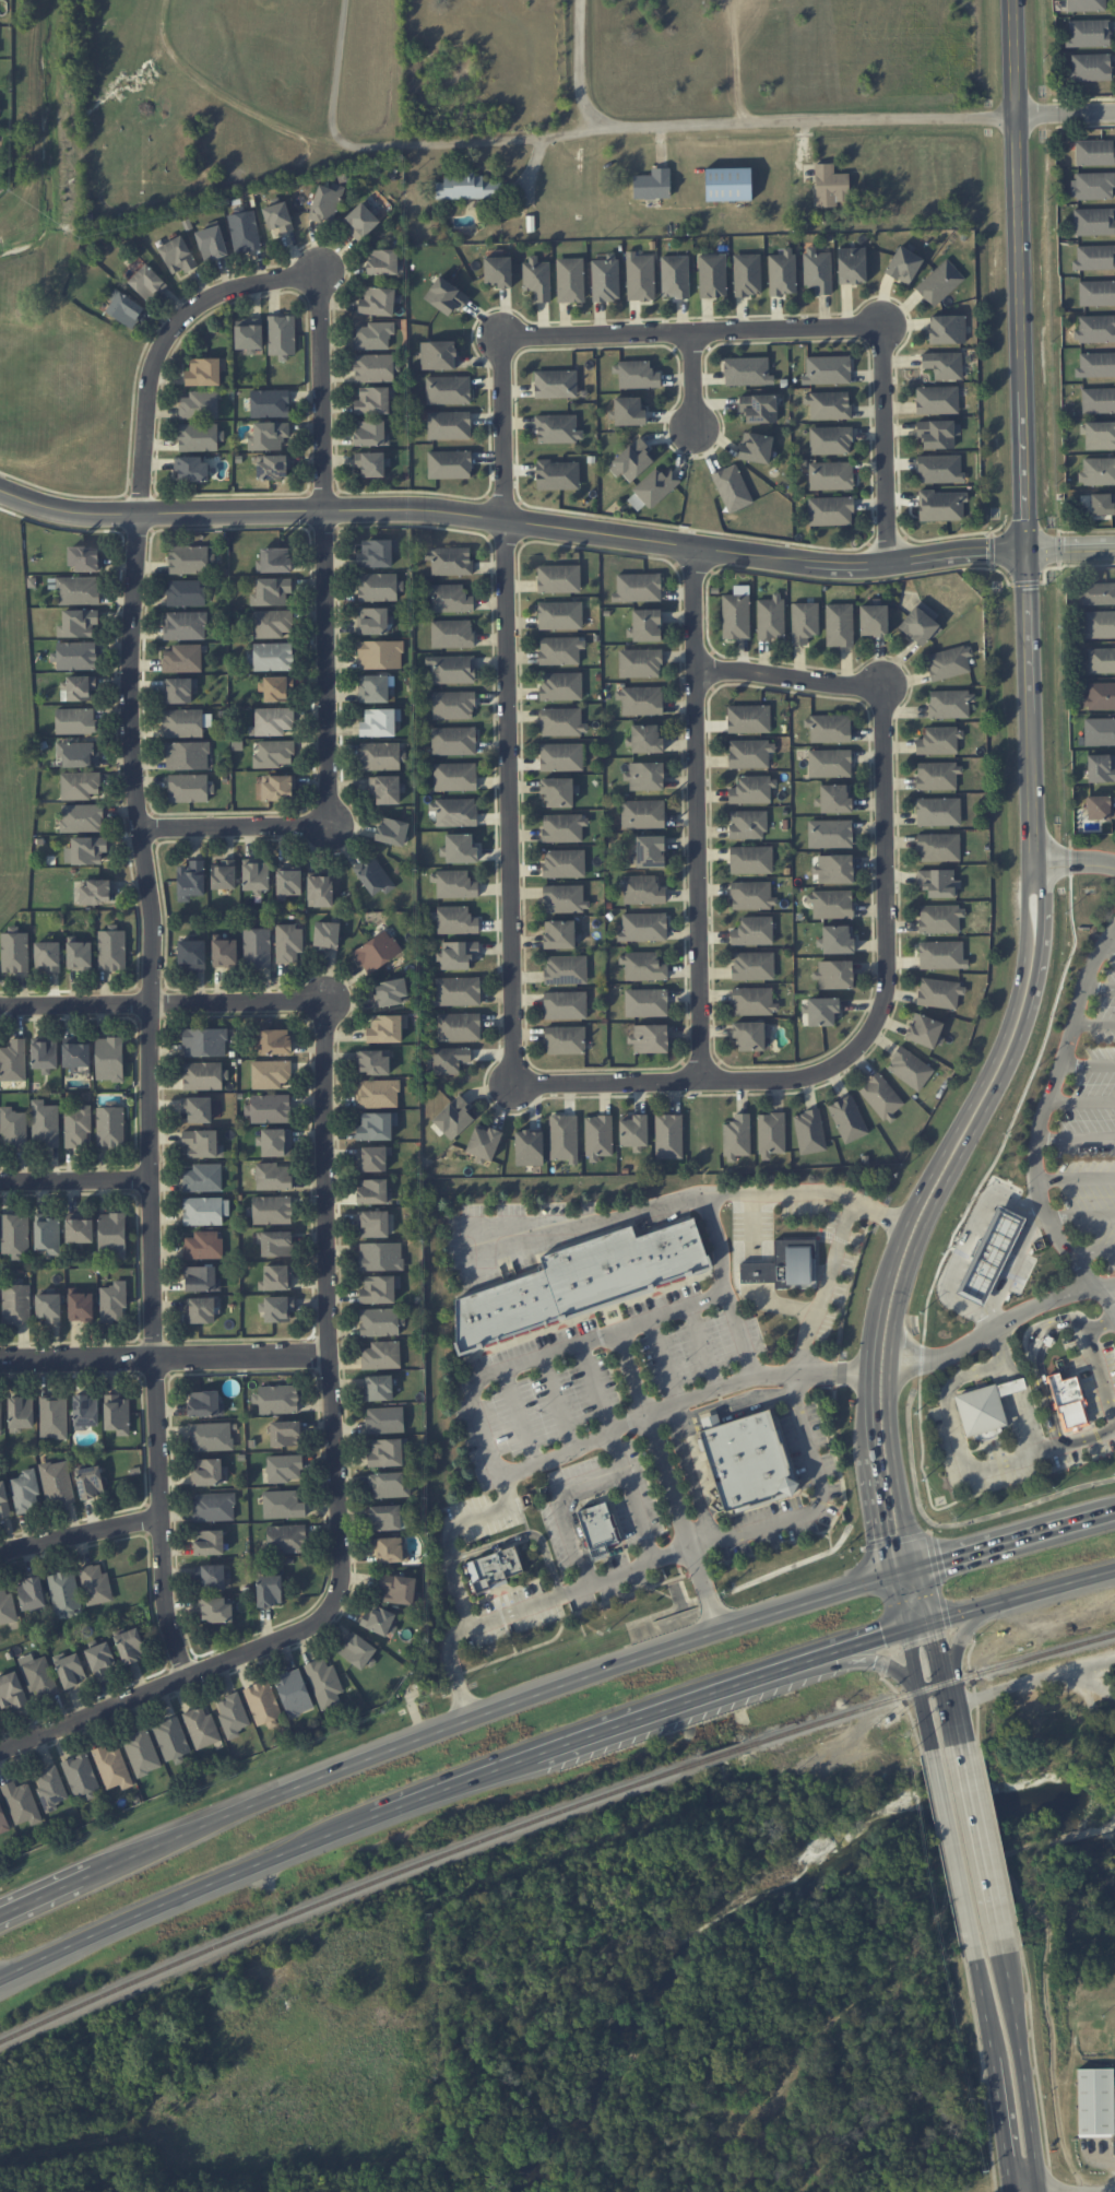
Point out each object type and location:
building: (1086, 4)
building: (1089, 33)
road: (735, 61)
road: (582, 67)
building: (1090, 67)
building: (0, 106)
road: (331, 107)
road: (1065, 117)
road: (711, 123)
building: (1094, 152)
building: (652, 184)
building: (727, 184)
building: (830, 186)
building: (1092, 186)
building: (466, 187)
building: (325, 202)
building: (277, 216)
building: (361, 221)
building: (1094, 221)
building: (244, 232)
building: (211, 241)
building: (177, 255)
building: (1094, 258)
building: (382, 261)
building: (852, 264)
building: (903, 264)
building: (817, 270)
building: (498, 271)
building: (782, 272)
building: (747, 274)
building: (712, 275)
building: (640, 276)
building: (675, 276)
building: (537, 278)
building: (605, 279)
building: (570, 280)
building: (147, 282)
building: (939, 282)
building: (1096, 293)
building: (446, 296)
building: (377, 302)
building: (124, 308)
building: (947, 329)
building: (1095, 329)
building: (249, 335)
building: (282, 335)
building: (373, 335)
building: (438, 354)
building: (944, 364)
building: (1095, 365)
building: (373, 367)
building: (827, 369)
building: (747, 370)
building: (205, 372)
building: (637, 374)
road: (695, 380)
building: (555, 384)
building: (448, 389)
building: (375, 400)
building: (937, 400)
building: (1098, 400)
building: (270, 403)
building: (199, 404)
building: (828, 404)
building: (759, 408)
building: (628, 411)
building: (449, 425)
building: (557, 428)
road: (1022, 432)
building: (371, 433)
building: (938, 433)
building: (1099, 435)
building: (199, 436)
building: (268, 436)
building: (830, 439)
building: (756, 447)
building: (631, 460)
building: (371, 462)
building: (449, 464)
building: (273, 467)
building: (192, 468)
building: (939, 468)
building: (1098, 471)
building: (557, 474)
building: (830, 475)
building: (655, 486)
building: (732, 487)
building: (1103, 504)
building: (941, 505)
building: (830, 510)
road: (512, 519)
road: (1070, 547)
building: (377, 553)
building: (85, 558)
building: (191, 558)
building: (274, 559)
building: (449, 561)
building: (559, 578)
building: (377, 587)
building: (637, 587)
building: (78, 590)
building: (271, 591)
building: (186, 592)
building: (1096, 593)
building: (448, 598)
building: (736, 613)
building: (560, 615)
building: (770, 616)
building: (372, 620)
building: (874, 620)
building: (804, 622)
building: (78, 623)
building: (272, 623)
building: (921, 623)
building: (1099, 624)
building: (185, 625)
building: (647, 625)
building: (839, 625)
building: (451, 634)
road: (325, 644)
building: (560, 650)
building: (380, 653)
building: (75, 656)
building: (272, 657)
building: (182, 658)
building: (1101, 660)
building: (639, 662)
building: (948, 662)
building: (451, 669)
building: (561, 686)
building: (79, 687)
building: (276, 687)
building: (373, 688)
building: (178, 690)
building: (1100, 696)
building: (640, 700)
building: (950, 704)
building: (453, 705)
building: (748, 718)
building: (75, 720)
building: (272, 720)
building: (562, 721)
building: (182, 722)
building: (379, 722)
building: (829, 728)
building: (1099, 731)
building: (647, 738)
building: (453, 740)
building: (937, 741)
building: (749, 753)
building: (273, 754)
building: (187, 755)
building: (379, 756)
building: (561, 756)
building: (829, 763)
building: (1101, 767)
building: (937, 775)
building: (454, 776)
building: (644, 776)
building: (80, 785)
building: (189, 788)
building: (275, 788)
building: (750, 789)
building: (385, 790)
building: (558, 791)
building: (834, 798)
building: (1100, 806)
building: (938, 811)
building: (454, 812)
road: (699, 813)
building: (642, 814)
building: (82, 817)
building: (748, 824)
building: (562, 828)
building: (392, 830)
building: (830, 834)
building: (939, 847)
building: (460, 848)
building: (88, 849)
building: (650, 851)
road: (510, 858)
building: (750, 859)
building: (564, 862)
road: (1076, 862)
building: (834, 869)
building: (256, 873)
building: (223, 874)
building: (373, 876)
building: (191, 880)
building: (288, 882)
building: (939, 883)
building: (454, 884)
building: (643, 889)
building: (94, 891)
building: (319, 891)
building: (751, 895)
building: (565, 898)
building: (831, 904)
building: (940, 918)
road: (153, 920)
building: (454, 920)
building: (643, 927)
building: (752, 931)
building: (559, 934)
building: (327, 935)
building: (838, 939)
building: (288, 942)
building: (257, 947)
road: (1108, 947)
building: (111, 950)
building: (14, 952)
building: (377, 952)
building: (191, 954)
building: (458, 954)
building: (48, 955)
building: (941, 955)
building: (754, 965)
building: (643, 966)
building: (566, 969)
building: (834, 974)
road: (1099, 989)
building: (458, 991)
building: (391, 992)
building: (939, 992)
building: (754, 1001)
building: (645, 1002)
road: (162, 1003)
building: (565, 1005)
building: (822, 1011)
road: (1094, 1025)
building: (459, 1026)
building: (385, 1027)
building: (924, 1030)
building: (750, 1035)
building: (650, 1038)
building: (565, 1039)
building: (204, 1041)
building: (275, 1041)
building: (76, 1051)
building: (44, 1053)
building: (109, 1059)
building: (449, 1059)
building: (13, 1060)
building: (373, 1062)
road: (1087, 1064)
building: (909, 1068)
building: (270, 1073)
building: (202, 1075)
building: (377, 1093)
building: (881, 1097)
road: (1080, 1101)
building: (270, 1108)
building: (198, 1109)
road: (971, 1110)
parking lot: (1084, 1115)
building: (453, 1117)
building: (847, 1119)
building: (45, 1123)
building: (110, 1126)
building: (376, 1126)
road: (1037, 1126)
building: (78, 1127)
building: (13, 1128)
building: (633, 1131)
building: (809, 1131)
building: (771, 1134)
building: (736, 1135)
building: (597, 1136)
building: (668, 1136)
building: (564, 1138)
road: (1075, 1140)
building: (484, 1141)
building: (275, 1142)
building: (202, 1143)
building: (529, 1147)
building: (372, 1158)
building: (273, 1176)
building: (202, 1178)
road: (1075, 1180)
road: (75, 1181)
building: (373, 1191)
road: (660, 1205)
building: (271, 1210)
building: (205, 1211)
road: (1081, 1215)
building: (373, 1224)
building: (79, 1228)
building: (14, 1233)
building: (47, 1233)
building: (111, 1234)
building: (275, 1242)
building: (993, 1244)
building: (203, 1245)
building: (688, 1245)
building: (668, 1252)
gas station: (986, 1252)
road: (1091, 1252)
road: (1020, 1254)
building: (380, 1256)
building: (650, 1259)
building: (622, 1260)
building: (794, 1263)
building: (596, 1269)
road: (754, 1273)
building: (276, 1277)
building: (201, 1278)
building: (566, 1278)
road: (1104, 1284)
road: (722, 1285)
building: (379, 1288)
building: (541, 1294)
building: (522, 1300)
building: (15, 1301)
building: (112, 1301)
building: (506, 1305)
building: (81, 1306)
building: (49, 1307)
building: (276, 1308)
building: (491, 1310)
building: (478, 1315)
building: (379, 1321)
building: (463, 1323)
road: (703, 1347)
building: (381, 1355)
road: (548, 1355)
road: (165, 1357)
road: (1033, 1359)
road: (664, 1362)
parking lot: (601, 1376)
building: (379, 1387)
building: (276, 1399)
building: (1067, 1400)
building: (204, 1403)
road: (556, 1404)
building: (978, 1409)
road: (947, 1410)
building: (85, 1411)
road: (1016, 1412)
building: (21, 1413)
road: (651, 1413)
road: (1112, 1413)
building: (117, 1414)
building: (1, 1416)
building: (54, 1416)
road: (519, 1417)
building: (384, 1419)
building: (285, 1433)
building: (211, 1436)
building: (387, 1452)
parking lot: (809, 1452)
road: (616, 1453)
building: (746, 1459)
road: (879, 1464)
building: (284, 1468)
building: (207, 1471)
building: (90, 1481)
building: (57, 1482)
road: (666, 1483)
building: (389, 1485)
road: (337, 1488)
building: (25, 1492)
building: (3, 1499)
road: (814, 1500)
building: (283, 1504)
building: (214, 1506)
road: (559, 1506)
road: (1114, 1513)
building: (385, 1517)
parking lot: (482, 1517)
building: (603, 1522)
building: (590, 1530)
road: (81, 1533)
traffic signals: (894, 1535)
road: (522, 1536)
building: (286, 1537)
building: (209, 1542)
road: (1009, 1544)
parking lot: (583, 1547)
building: (390, 1549)
traffic signals: (942, 1564)
building: (491, 1568)
building: (210, 1576)
building: (95, 1584)
building: (398, 1589)
building: (269, 1590)
building: (64, 1592)
building: (31, 1593)
road: (1019, 1599)
road: (915, 1601)
building: (7, 1606)
building: (214, 1610)
building: (378, 1619)
road: (963, 1633)
traffic signals: (885, 1640)
traffic signals: (940, 1643)
road: (869, 1645)
building: (130, 1646)
road: (940, 1646)
building: (357, 1650)
building: (100, 1658)
road: (915, 1659)
road: (875, 1660)
railway: (1019, 1663)
building: (70, 1669)
building: (39, 1676)
road: (1031, 1677)
road: (947, 1680)
building: (324, 1683)
building: (12, 1690)
road: (1104, 1690)
building: (294, 1692)
building: (263, 1704)
road: (662, 1710)
road: (501, 1712)
building: (233, 1713)
road: (954, 1718)
road: (929, 1724)
building: (201, 1727)
building: (171, 1740)
building: (142, 1752)
building: (112, 1767)
building: (81, 1775)
building: (50, 1787)
road: (434, 1795)
building: (21, 1803)
building: (3, 1820)
road: (983, 1850)
railway: (455, 1851)
road: (957, 1857)
road: (51, 1892)
road: (177, 1898)
road: (1020, 2065)
road: (998, 2071)
building: (1095, 2102)
road: (1027, 2185)
road: (1066, 2185)

